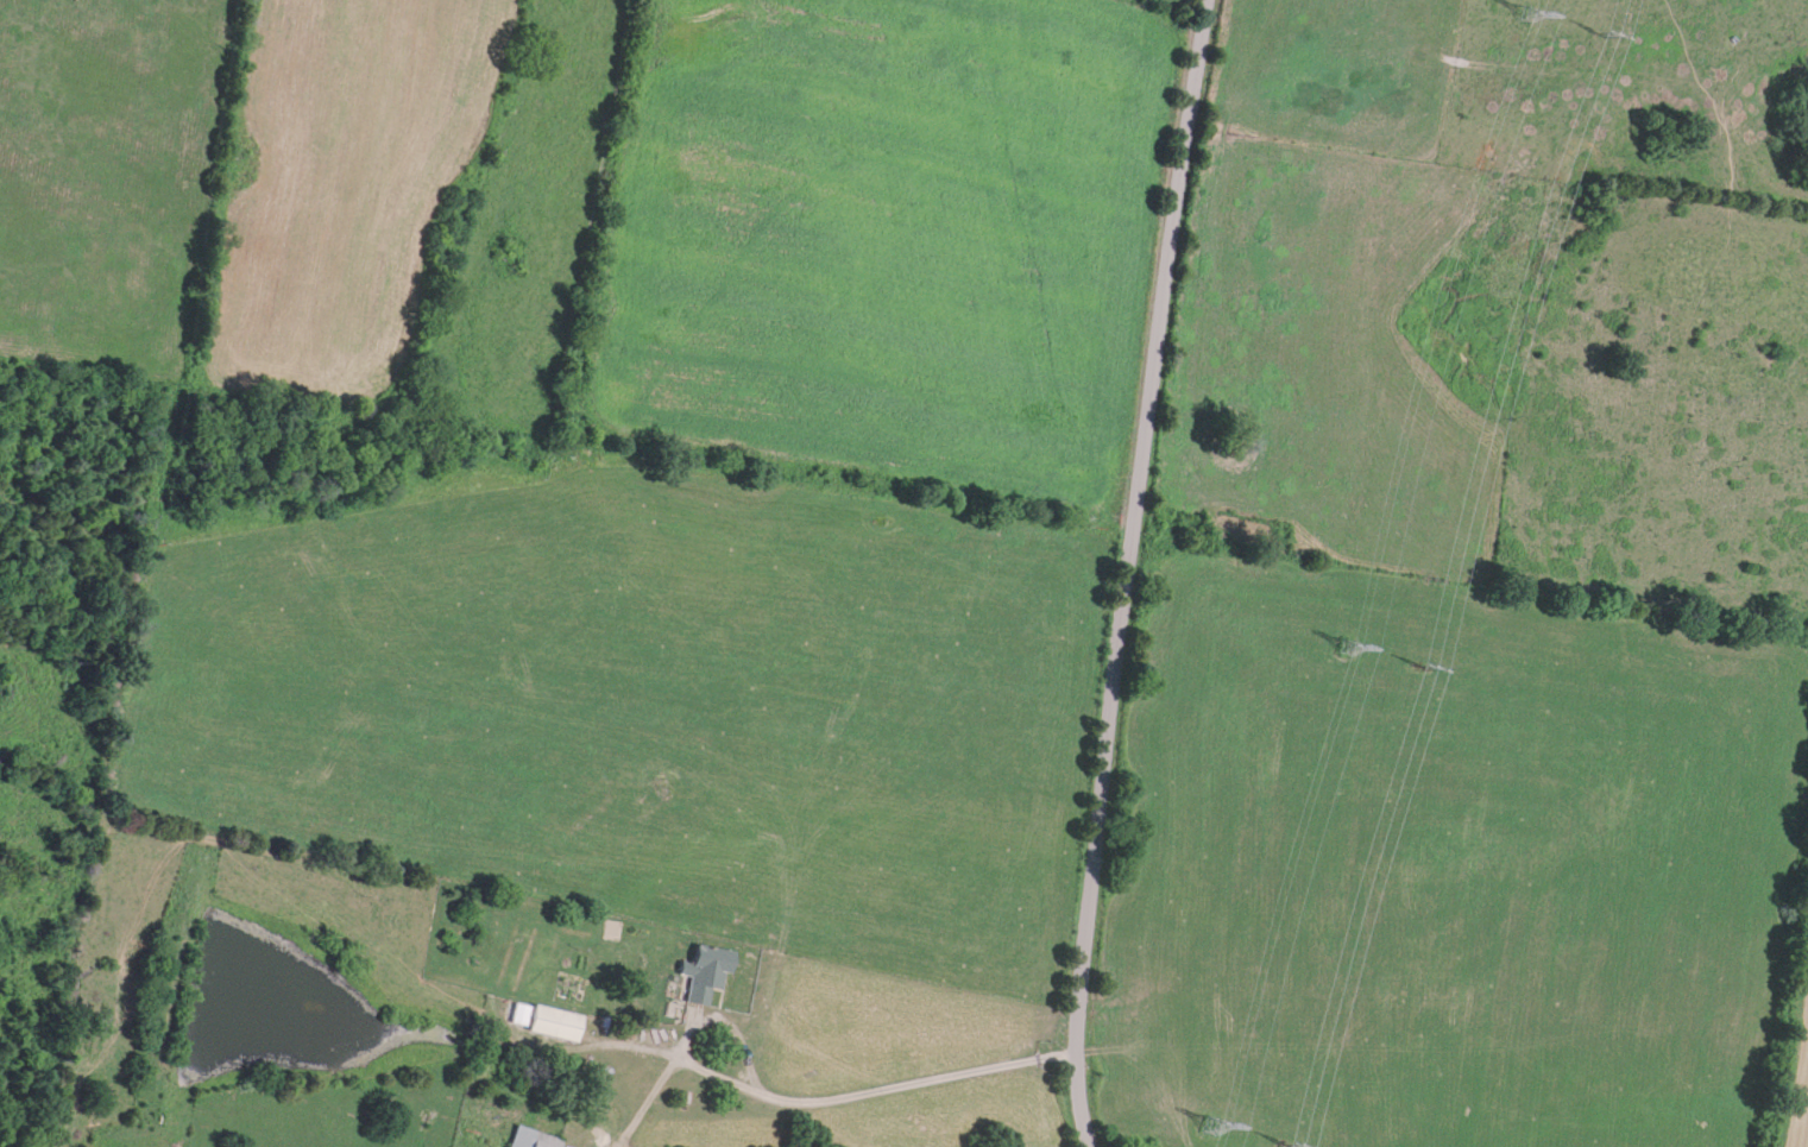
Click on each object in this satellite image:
road: (1122, 572)
building: (699, 972)
building: (550, 1022)
road: (849, 1102)
building: (529, 1137)

